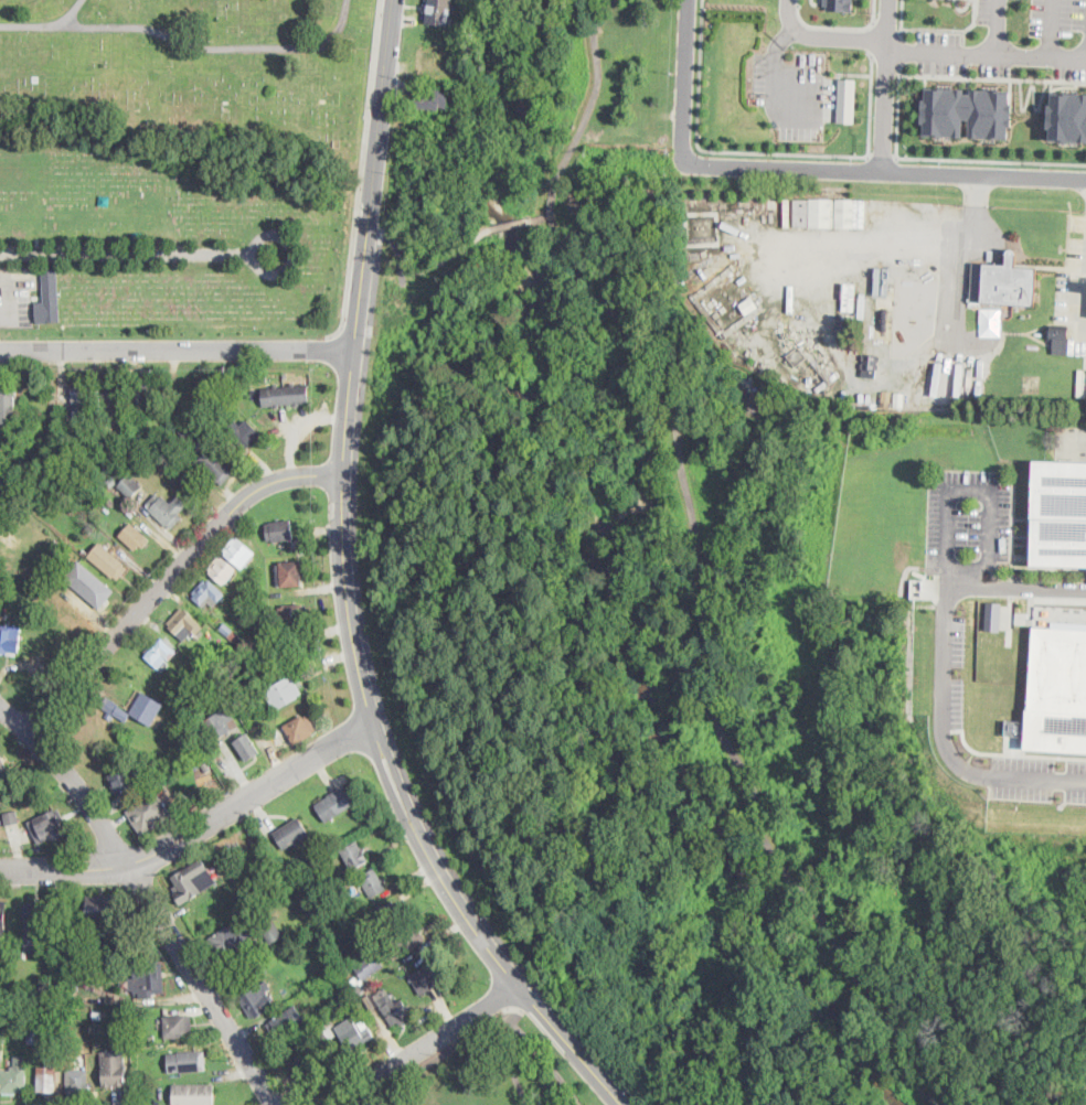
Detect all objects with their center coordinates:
building: (839, 4)
road: (874, 10)
road: (75, 12)
building: (439, 12)
road: (902, 15)
road: (828, 25)
road: (886, 26)
road: (994, 26)
road: (1052, 28)
road: (157, 29)
road: (949, 29)
road: (338, 30)
road: (824, 35)
road: (873, 37)
road: (901, 49)
road: (986, 53)
road: (885, 58)
building: (430, 60)
road: (989, 76)
road: (683, 83)
road: (596, 86)
road: (773, 86)
road: (884, 86)
building: (432, 98)
building: (847, 99)
building: (967, 111)
building: (1067, 116)
road: (760, 151)
road: (882, 155)
road: (949, 158)
park: (178, 165)
road: (780, 169)
road: (361, 171)
road: (983, 175)
building: (829, 212)
road: (521, 221)
road: (896, 245)
road: (289, 253)
road: (126, 255)
road: (571, 262)
road: (456, 265)
building: (882, 280)
building: (1003, 283)
building: (51, 290)
building: (748, 304)
road: (355, 329)
building: (1060, 336)
road: (177, 351)
road: (352, 362)
building: (873, 372)
building: (301, 376)
building: (263, 377)
building: (140, 390)
building: (286, 396)
building: (110, 397)
building: (886, 398)
building: (899, 398)
building: (39, 404)
building: (81, 404)
building: (7, 405)
building: (243, 433)
building: (193, 437)
building: (86, 460)
building: (114, 460)
building: (216, 465)
building: (148, 470)
road: (279, 480)
building: (111, 482)
building: (130, 486)
building: (6, 490)
building: (109, 502)
building: (168, 509)
building: (1060, 514)
building: (279, 529)
building: (135, 537)
building: (85, 552)
building: (239, 552)
building: (108, 561)
road: (988, 570)
building: (223, 571)
building: (287, 572)
building: (89, 584)
road: (1030, 589)
building: (24, 591)
building: (266, 591)
building: (13, 592)
building: (209, 593)
building: (33, 594)
road: (360, 602)
building: (992, 615)
building: (294, 618)
road: (128, 622)
building: (185, 623)
building: (231, 633)
building: (10, 640)
building: (160, 654)
building: (190, 674)
building: (194, 683)
building: (1056, 690)
building: (284, 693)
building: (114, 708)
building: (142, 710)
road: (939, 723)
building: (221, 726)
building: (1014, 727)
building: (297, 732)
road: (726, 741)
building: (248, 747)
road: (1011, 753)
building: (1, 765)
building: (1, 770)
building: (125, 781)
building: (336, 804)
building: (150, 813)
building: (11, 816)
building: (51, 826)
road: (195, 828)
building: (291, 834)
building: (228, 849)
building: (355, 855)
building: (193, 880)
building: (276, 881)
building: (374, 882)
building: (247, 892)
road: (147, 897)
building: (103, 911)
building: (392, 914)
building: (39, 916)
building: (350, 916)
building: (3, 918)
road: (473, 929)
building: (271, 931)
building: (405, 941)
building: (225, 943)
building: (54, 965)
building: (3, 966)
building: (343, 967)
building: (370, 967)
building: (428, 977)
building: (148, 979)
building: (228, 988)
building: (360, 988)
building: (71, 989)
road: (531, 999)
building: (258, 1000)
building: (370, 1000)
building: (393, 1008)
building: (97, 1015)
road: (518, 1016)
building: (287, 1022)
building: (178, 1026)
building: (66, 1029)
building: (327, 1030)
building: (3, 1032)
building: (354, 1033)
building: (137, 1034)
building: (33, 1038)
road: (420, 1045)
building: (2, 1050)
road: (437, 1056)
building: (187, 1062)
road: (546, 1062)
road: (512, 1064)
building: (310, 1066)
building: (114, 1070)
park: (491, 1071)
building: (135, 1073)
building: (14, 1077)
building: (49, 1077)
building: (76, 1079)
building: (135, 1088)
building: (193, 1094)
road: (568, 1102)

